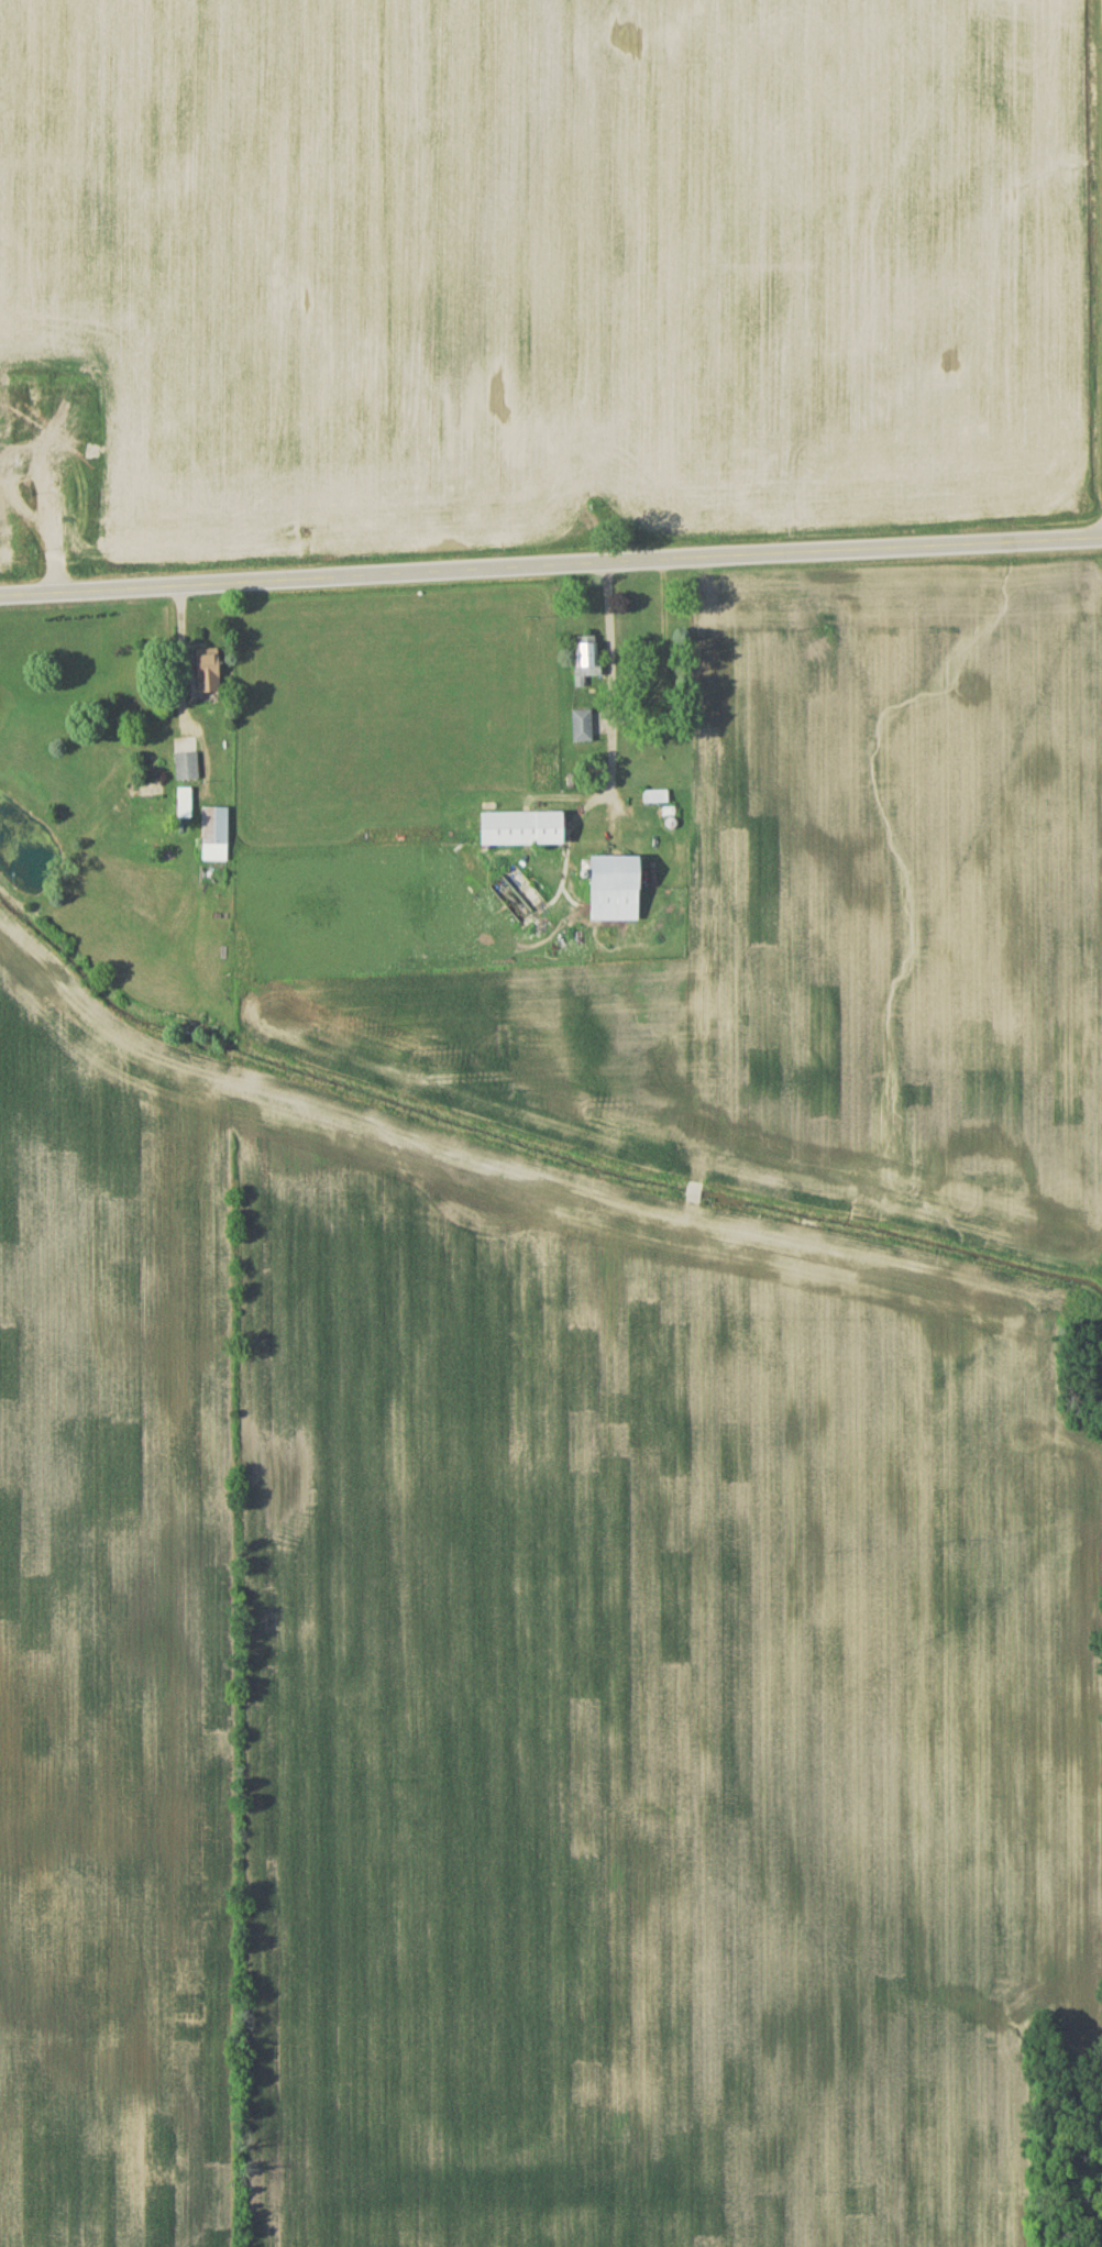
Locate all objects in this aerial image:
building: (19, 409)
road: (551, 565)
building: (586, 663)
building: (209, 675)
road: (610, 697)
building: (583, 730)
building: (188, 771)
building: (185, 807)
building: (526, 833)
building: (216, 838)
building: (619, 892)

